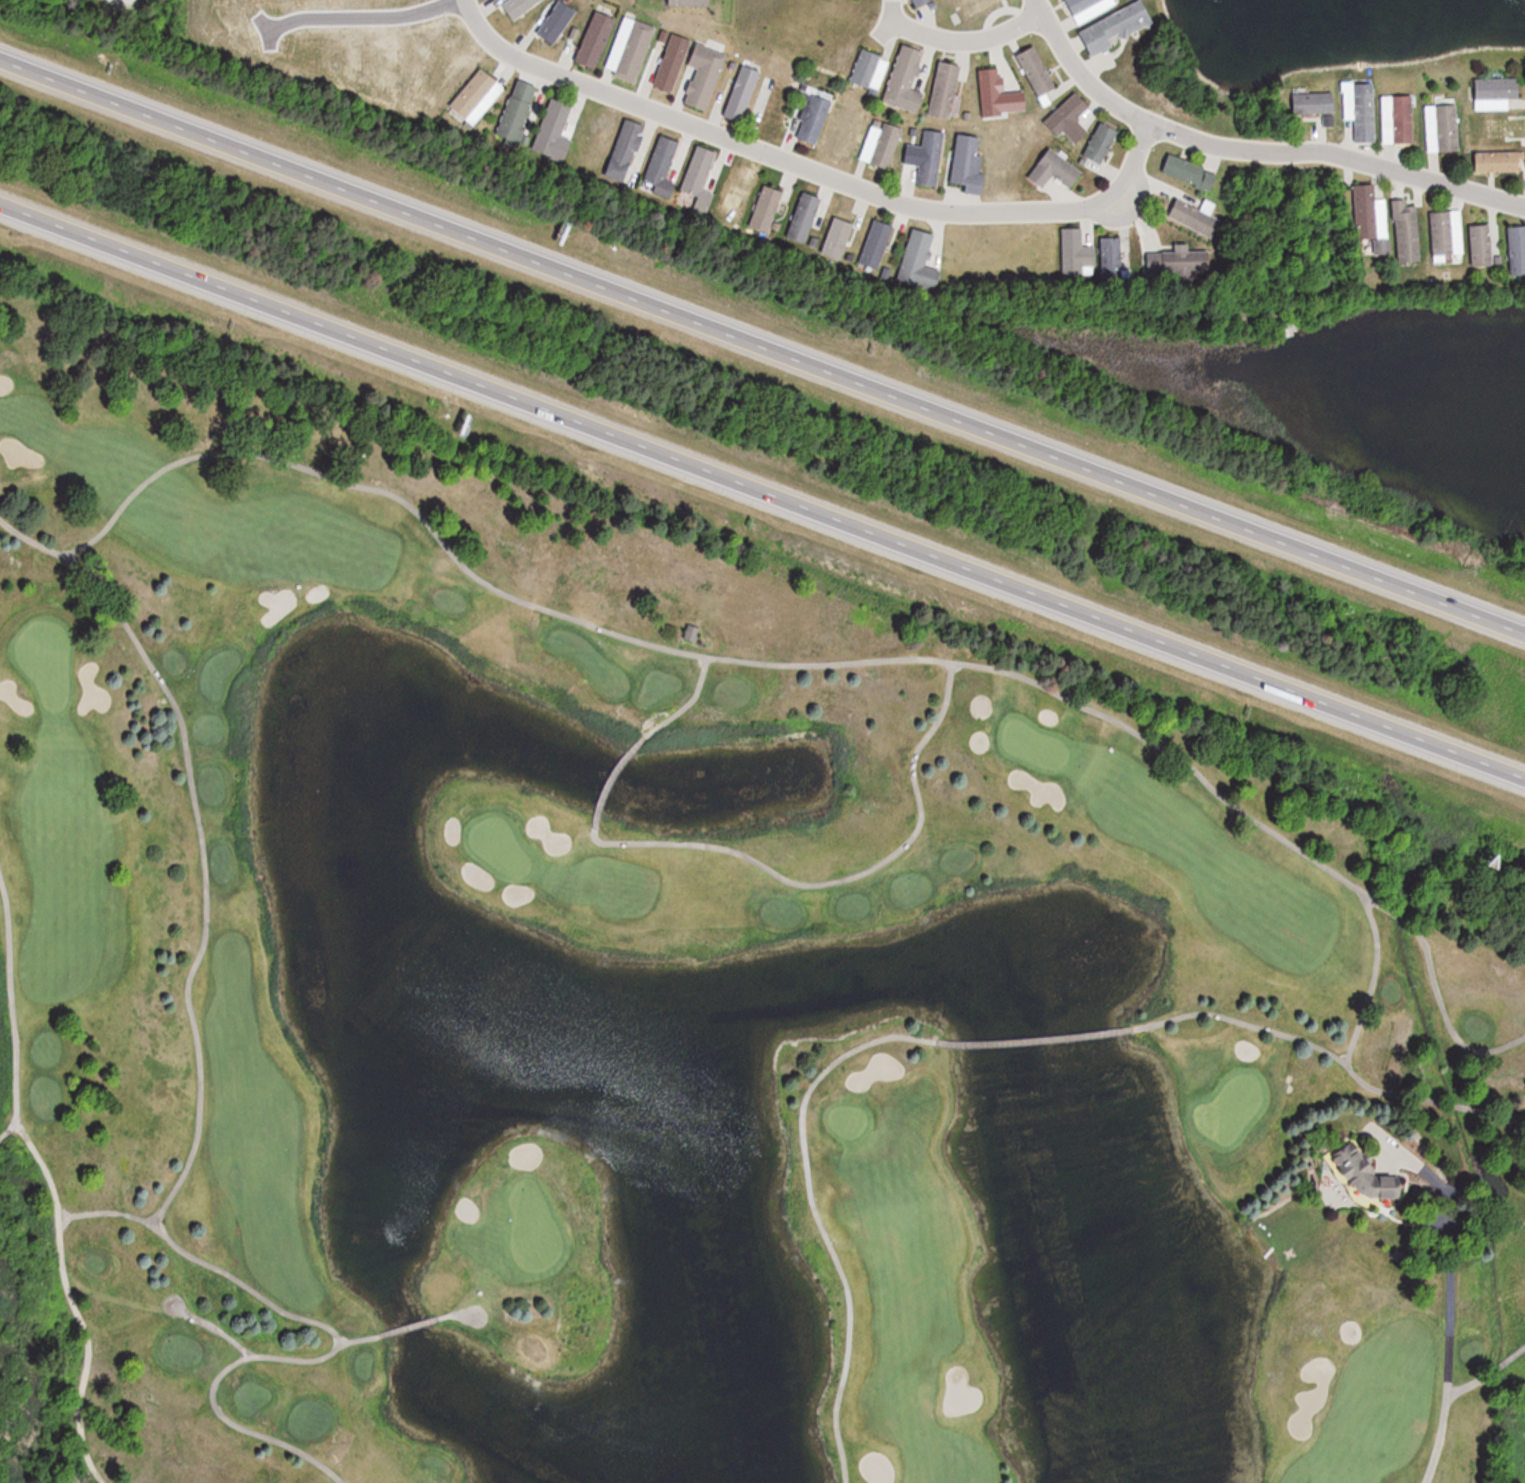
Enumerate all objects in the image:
road: (128, 2)
building: (689, 2)
building: (920, 2)
road: (324, 8)
building: (1089, 8)
building: (1116, 27)
building: (596, 40)
road: (967, 40)
building: (631, 49)
building: (673, 62)
building: (870, 69)
building: (1037, 71)
building: (704, 76)
building: (906, 80)
building: (946, 90)
building: (743, 92)
building: (1496, 92)
building: (998, 95)
building: (476, 98)
building: (1314, 102)
building: (777, 108)
building: (518, 112)
building: (1361, 112)
building: (816, 118)
building: (1070, 118)
building: (1398, 119)
building: (553, 127)
building: (1442, 127)
building: (1507, 127)
building: (1102, 142)
building: (886, 145)
building: (626, 150)
road: (1252, 150)
building: (930, 158)
building: (1499, 161)
building: (969, 162)
road: (792, 164)
building: (663, 165)
building: (1056, 170)
building: (1189, 171)
building: (701, 173)
building: (767, 208)
building: (1366, 210)
building: (804, 217)
building: (1194, 218)
building: (1406, 230)
building: (1442, 232)
building: (876, 244)
building: (1481, 244)
building: (1517, 249)
building: (1073, 252)
building: (1112, 258)
building: (919, 261)
building: (1178, 262)
road: (764, 344)
road: (762, 490)
building: (693, 632)
road: (823, 663)
road: (690, 701)
park: (1033, 745)
park: (502, 846)
building: (1500, 862)
road: (841, 878)
road: (195, 966)
park: (687, 984)
road: (1332, 1054)
park: (1237, 1104)
road: (11, 1126)
building: (1364, 1172)
road: (49, 1180)
road: (108, 1211)
road: (819, 1222)
park: (533, 1228)
road: (1450, 1294)
road: (187, 1309)
road: (480, 1311)
road: (213, 1397)
road: (1438, 1440)

